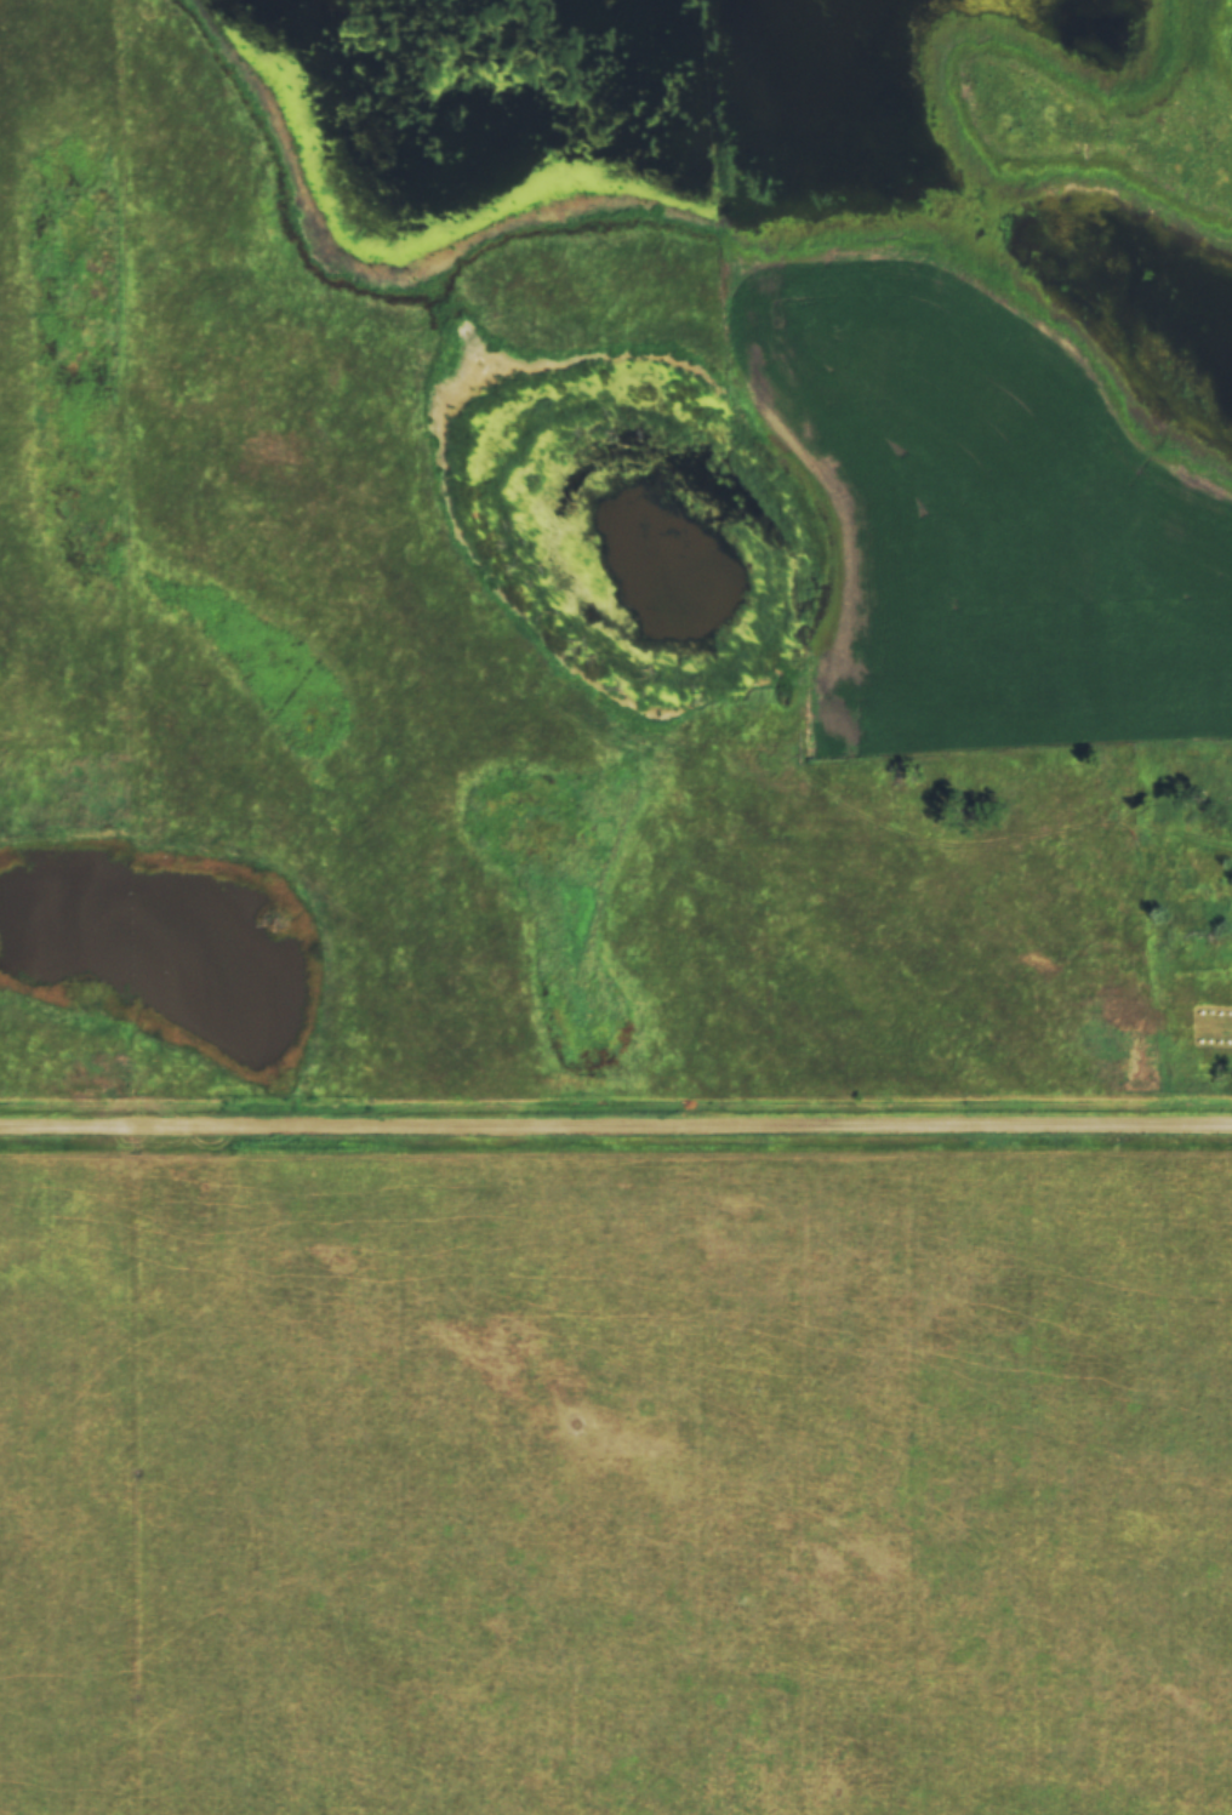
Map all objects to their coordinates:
road: (616, 1135)

